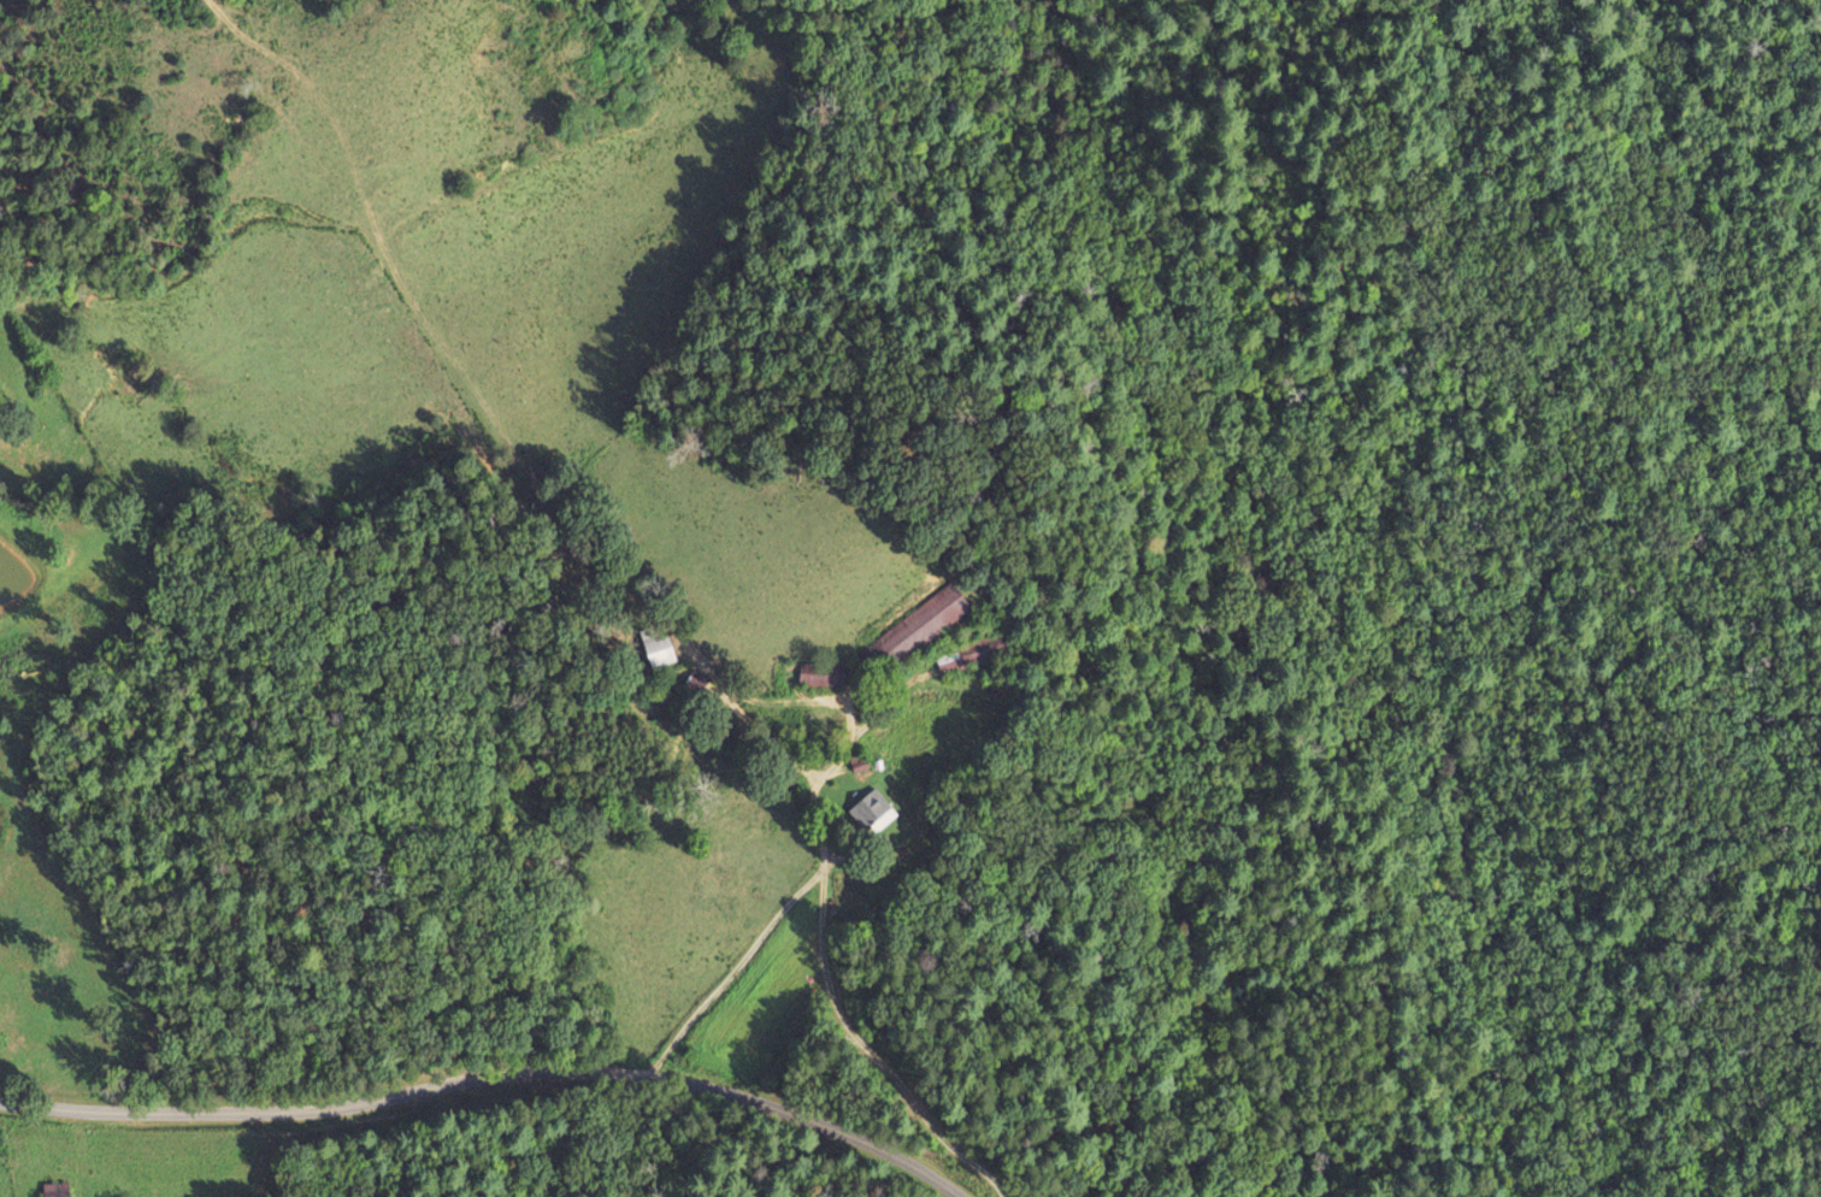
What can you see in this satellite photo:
building: (656, 650)
building: (819, 673)
building: (871, 807)
road: (817, 867)
road: (493, 1081)

